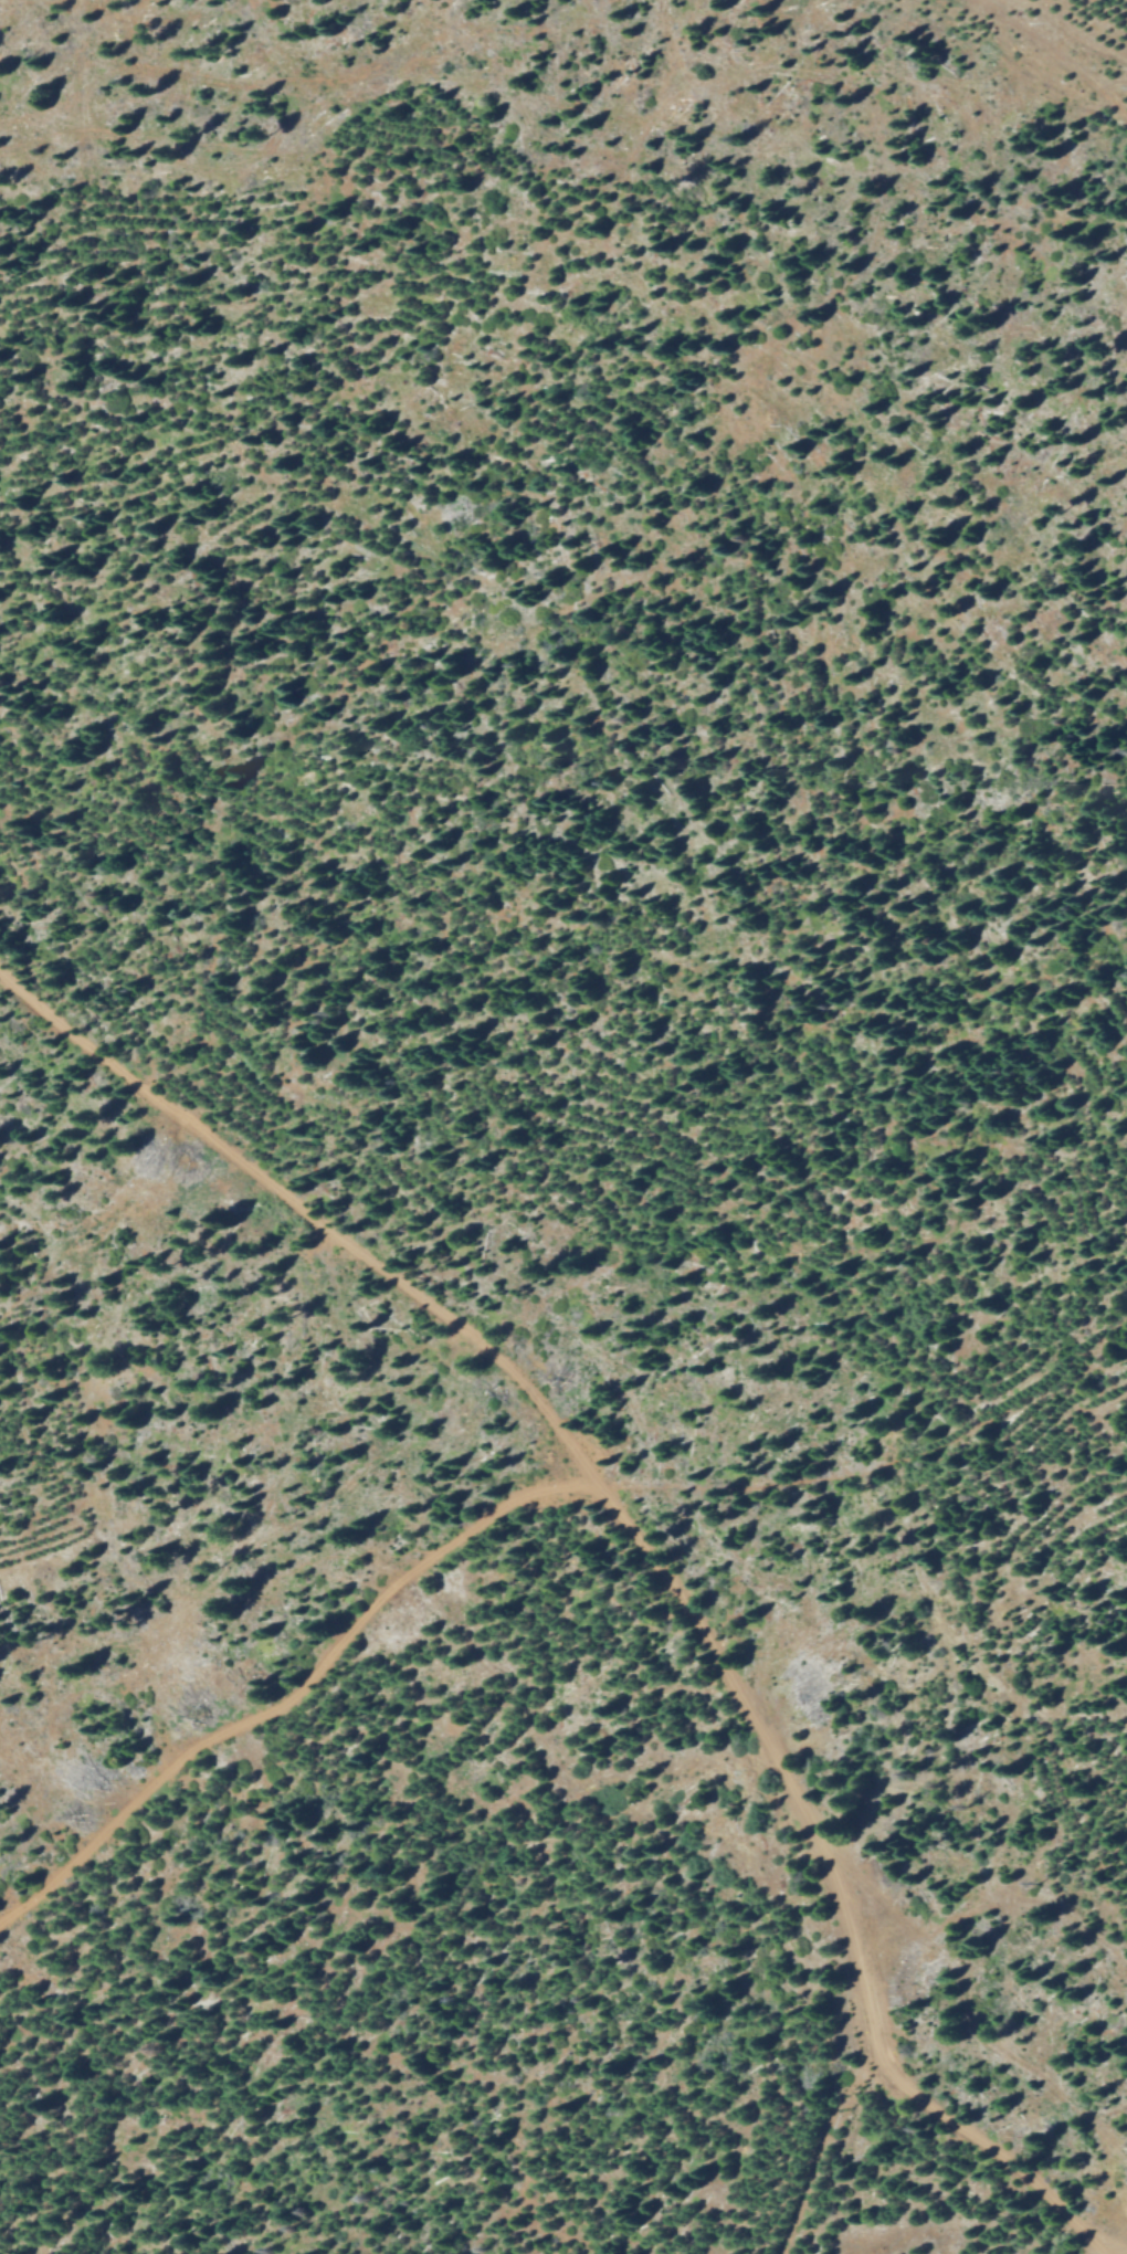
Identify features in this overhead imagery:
road: (351, 1155)
road: (654, 1565)
road: (1123, 2251)

